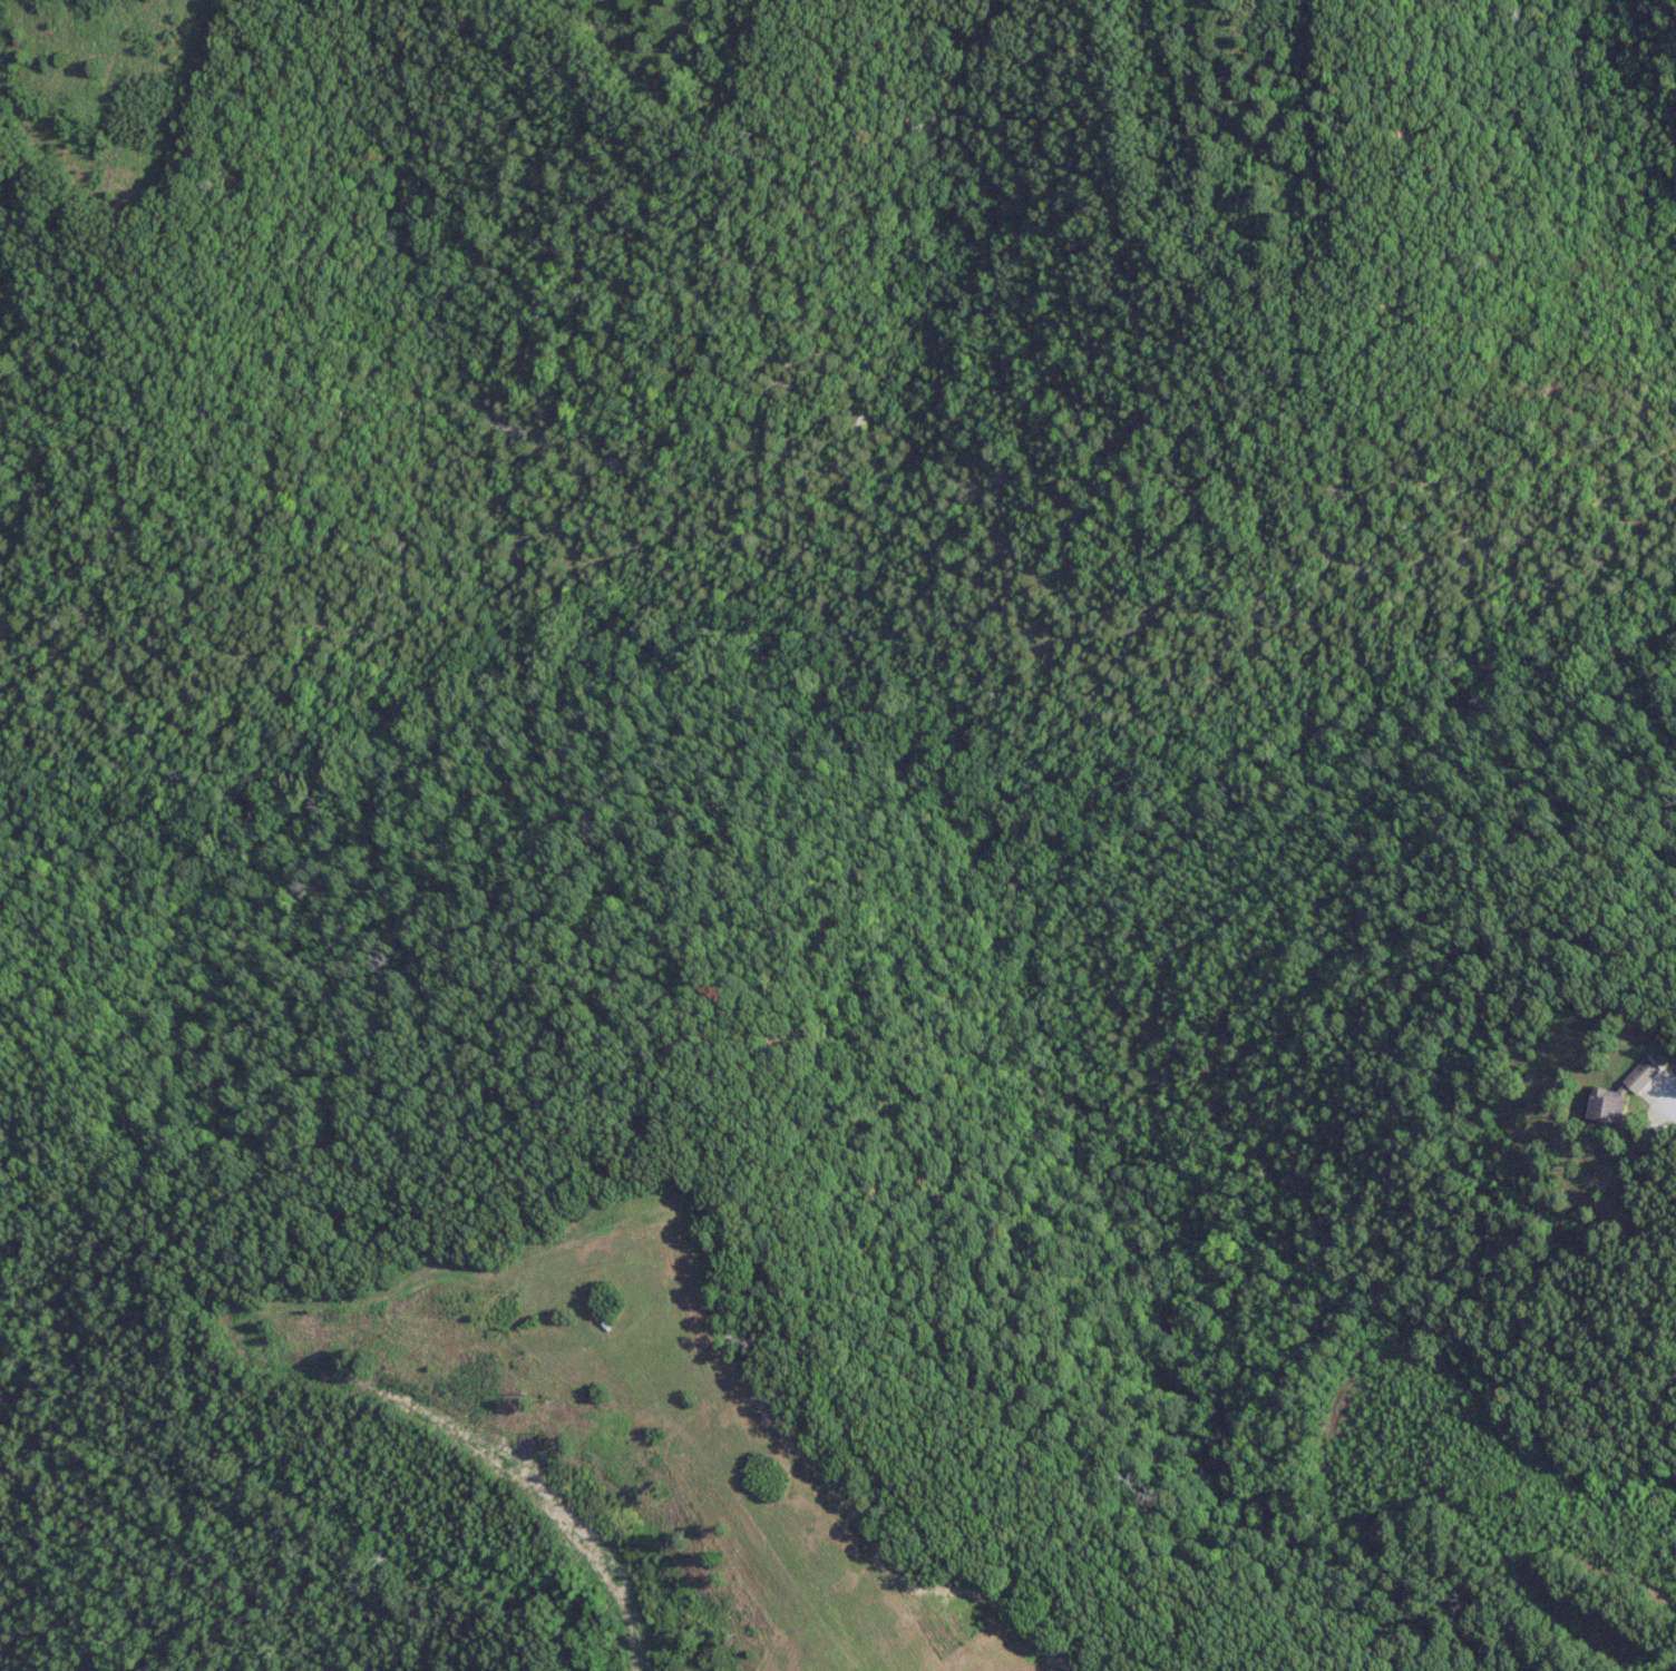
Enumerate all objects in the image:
building: (1617, 1092)

